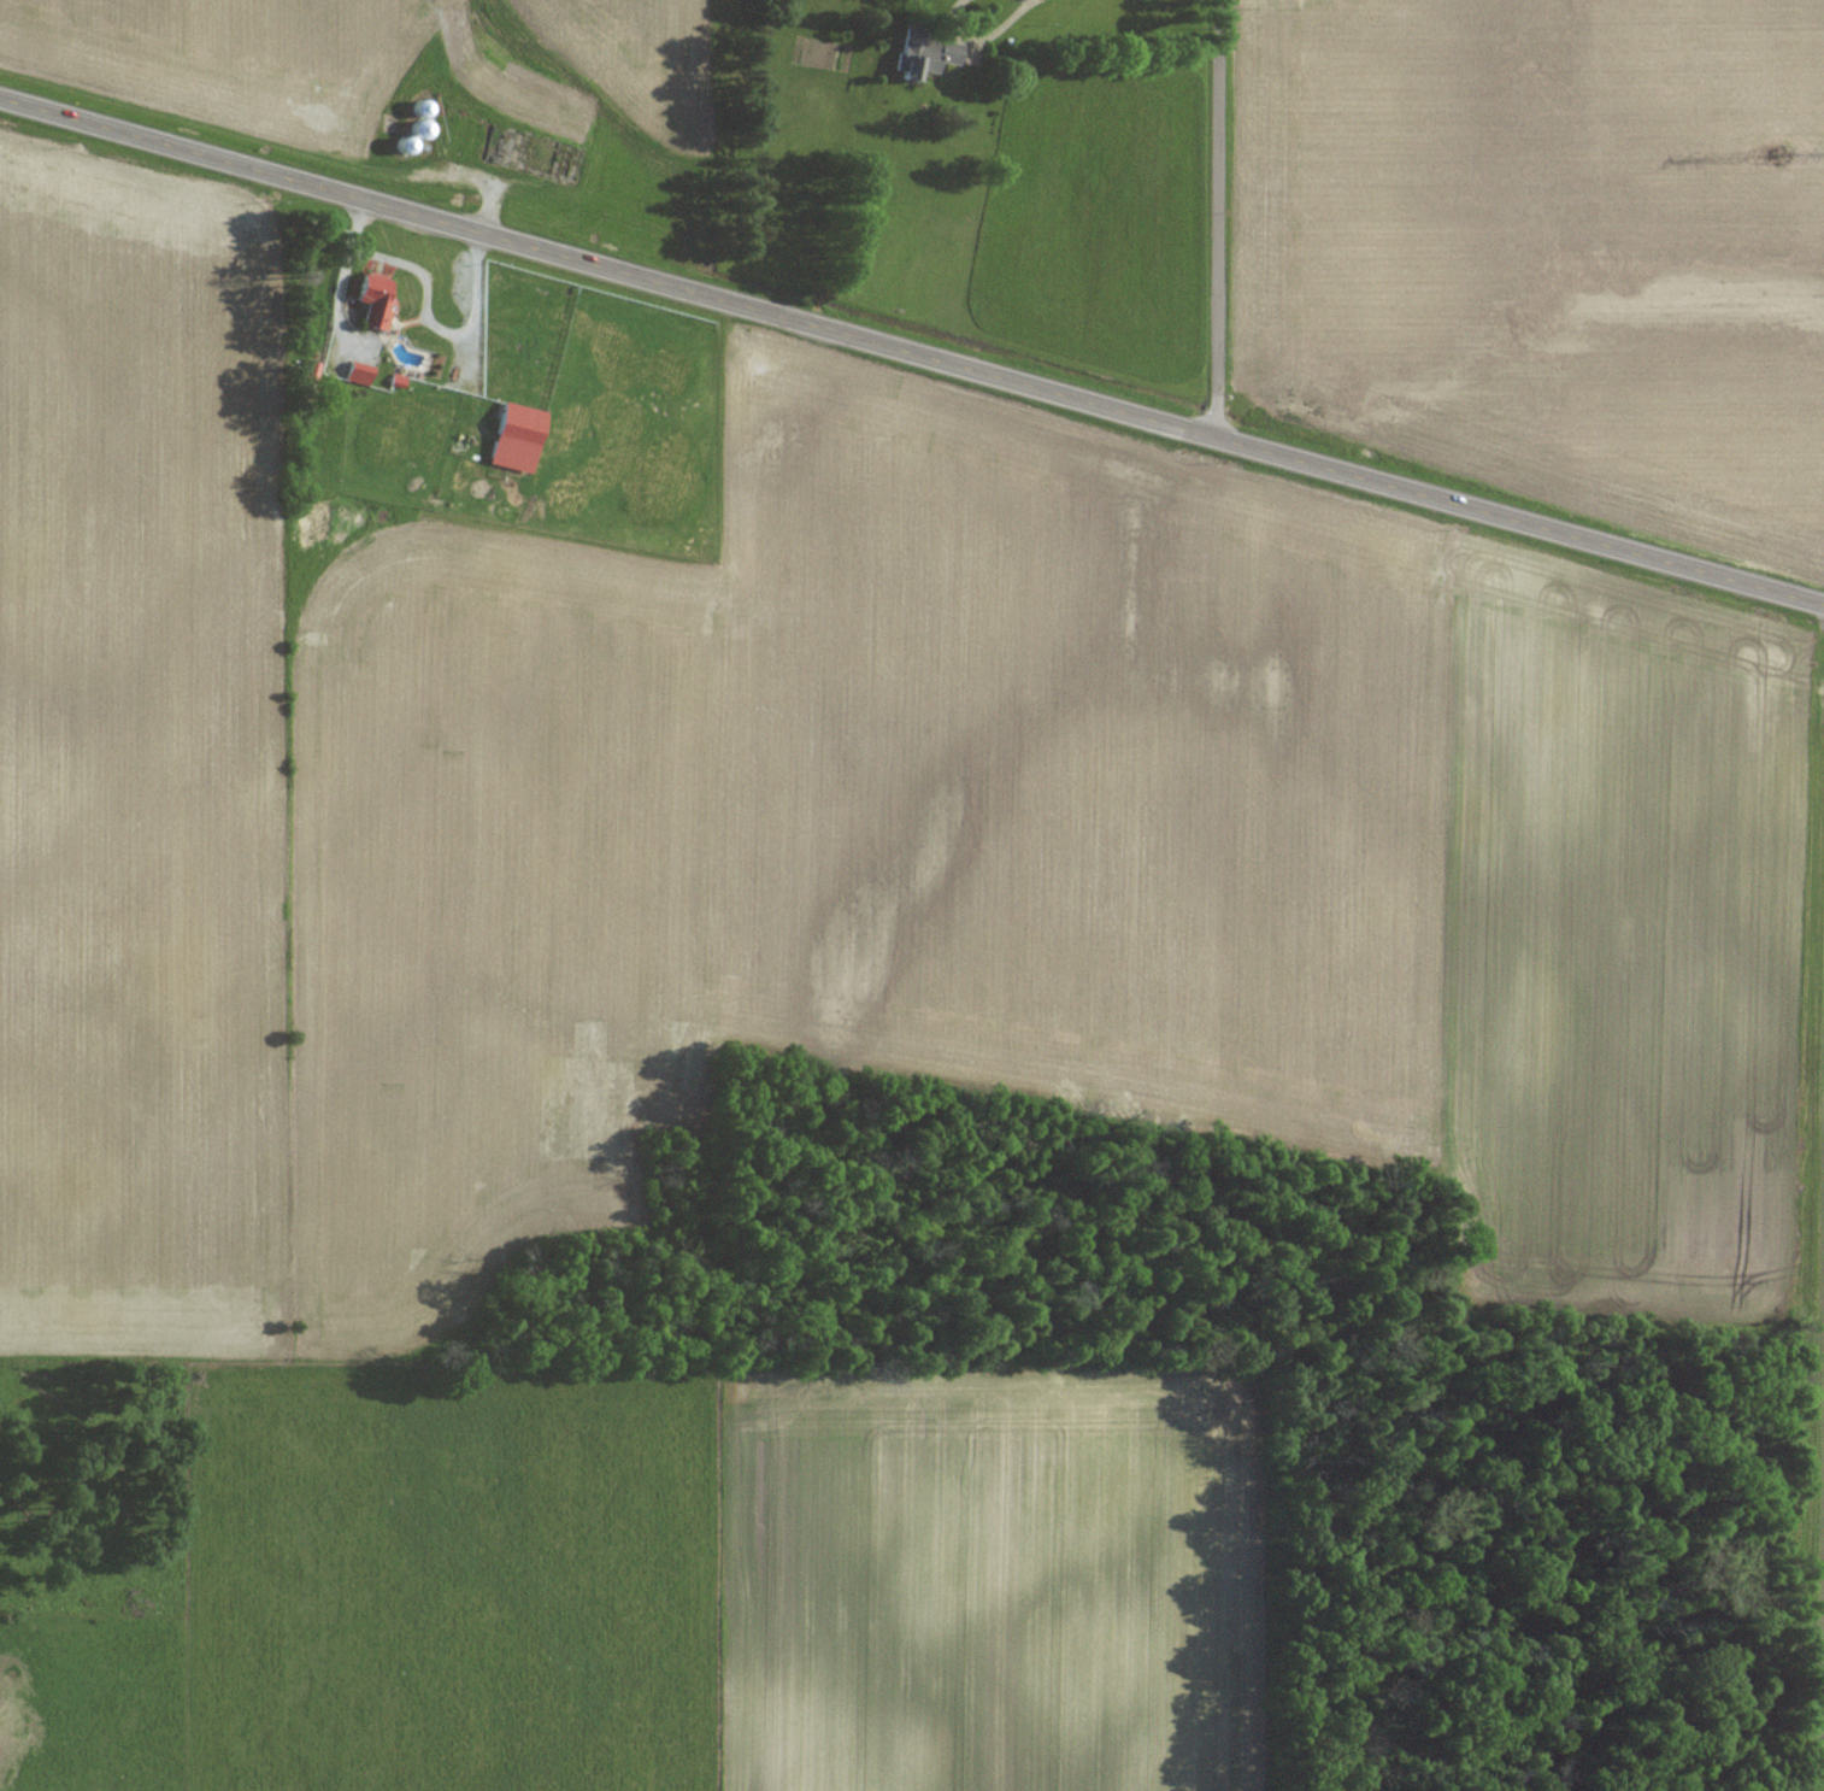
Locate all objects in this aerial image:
road: (978, 39)
power tower: (1785, 160)
road: (1219, 218)
building: (372, 299)
road: (912, 352)
building: (358, 372)
building: (517, 438)

